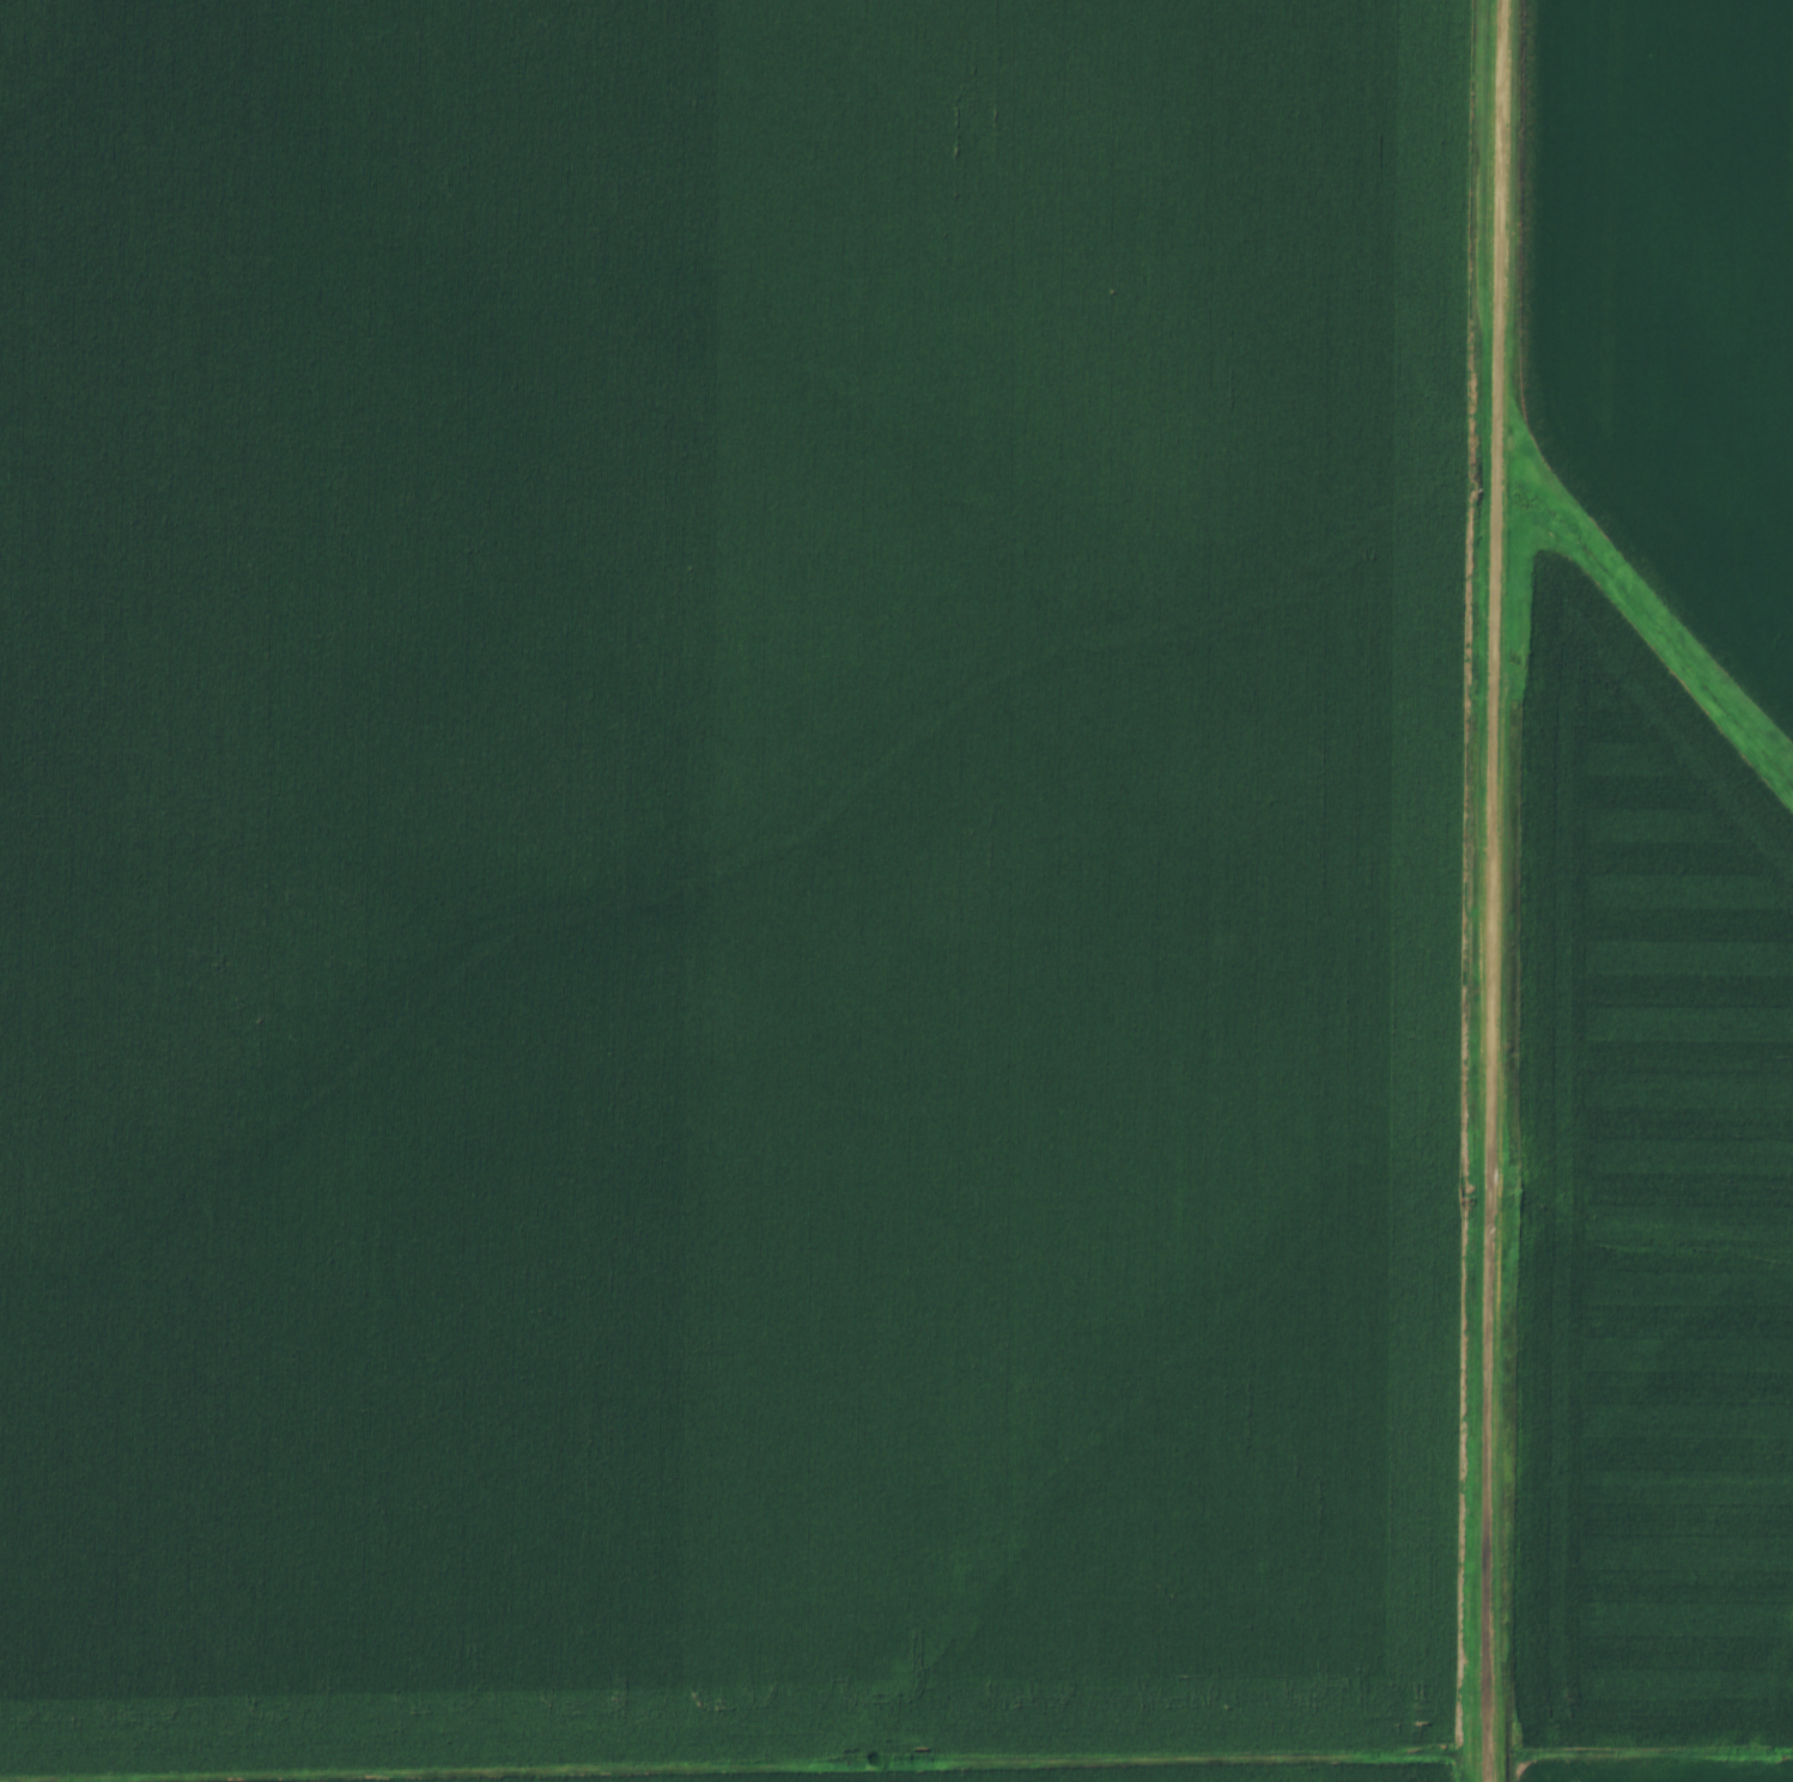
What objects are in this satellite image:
road: (1488, 890)

